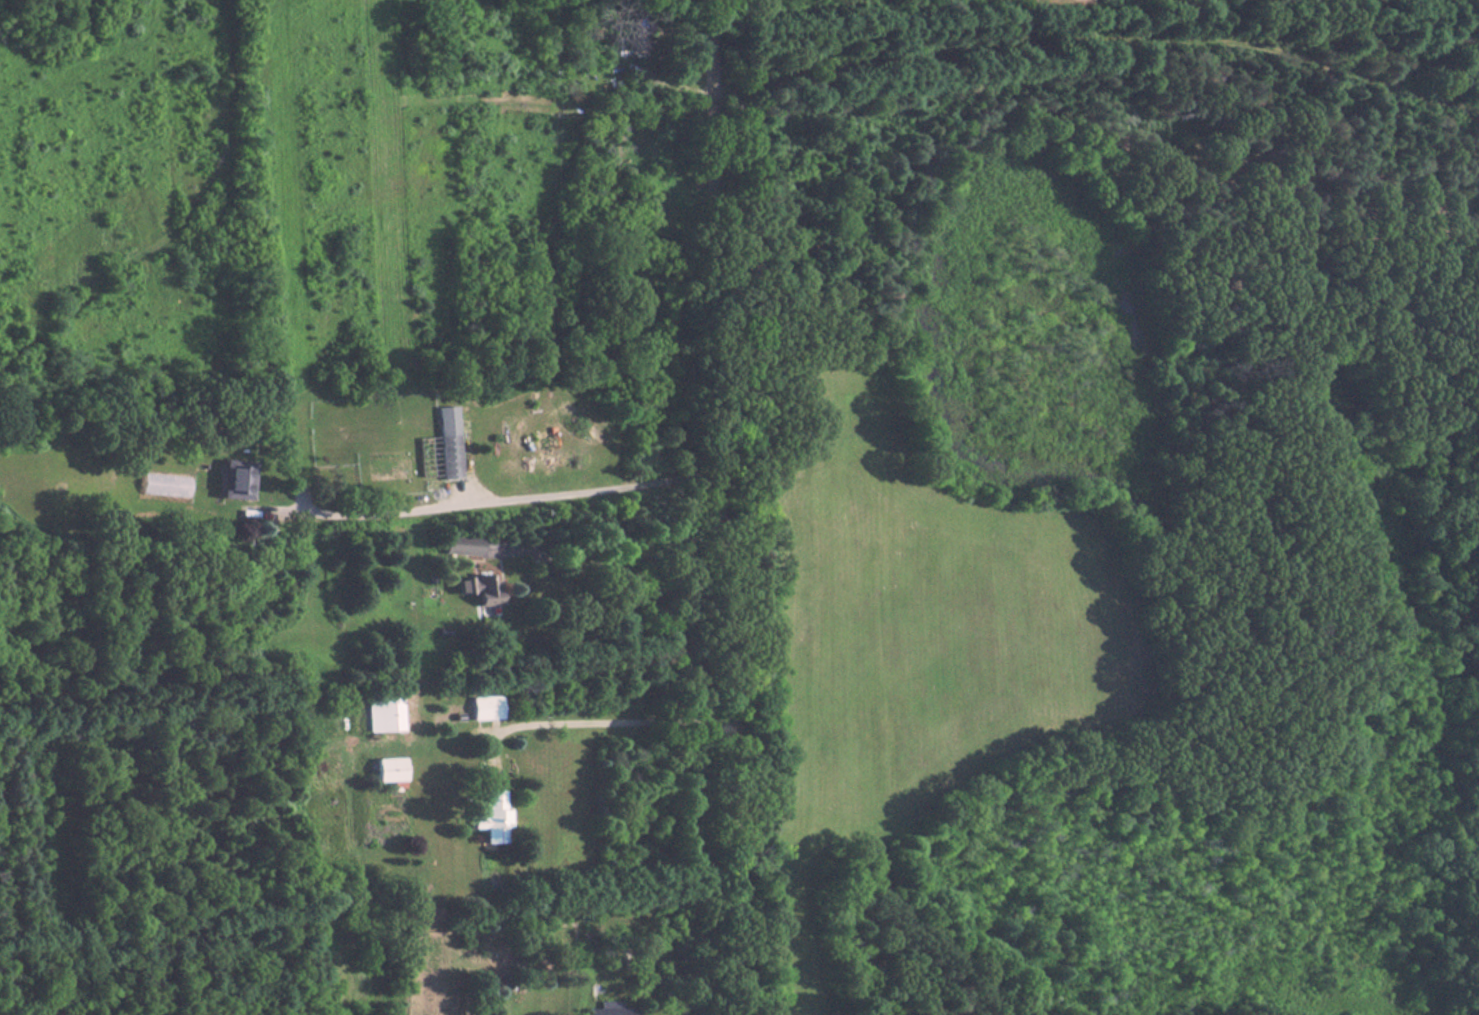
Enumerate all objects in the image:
building: (633, 37)
building: (449, 456)
building: (238, 480)
building: (168, 485)
road: (495, 501)
road: (720, 507)
road: (610, 544)
building: (450, 549)
building: (477, 588)
building: (484, 708)
building: (383, 714)
road: (589, 725)
building: (386, 769)
building: (490, 816)
building: (612, 1009)

